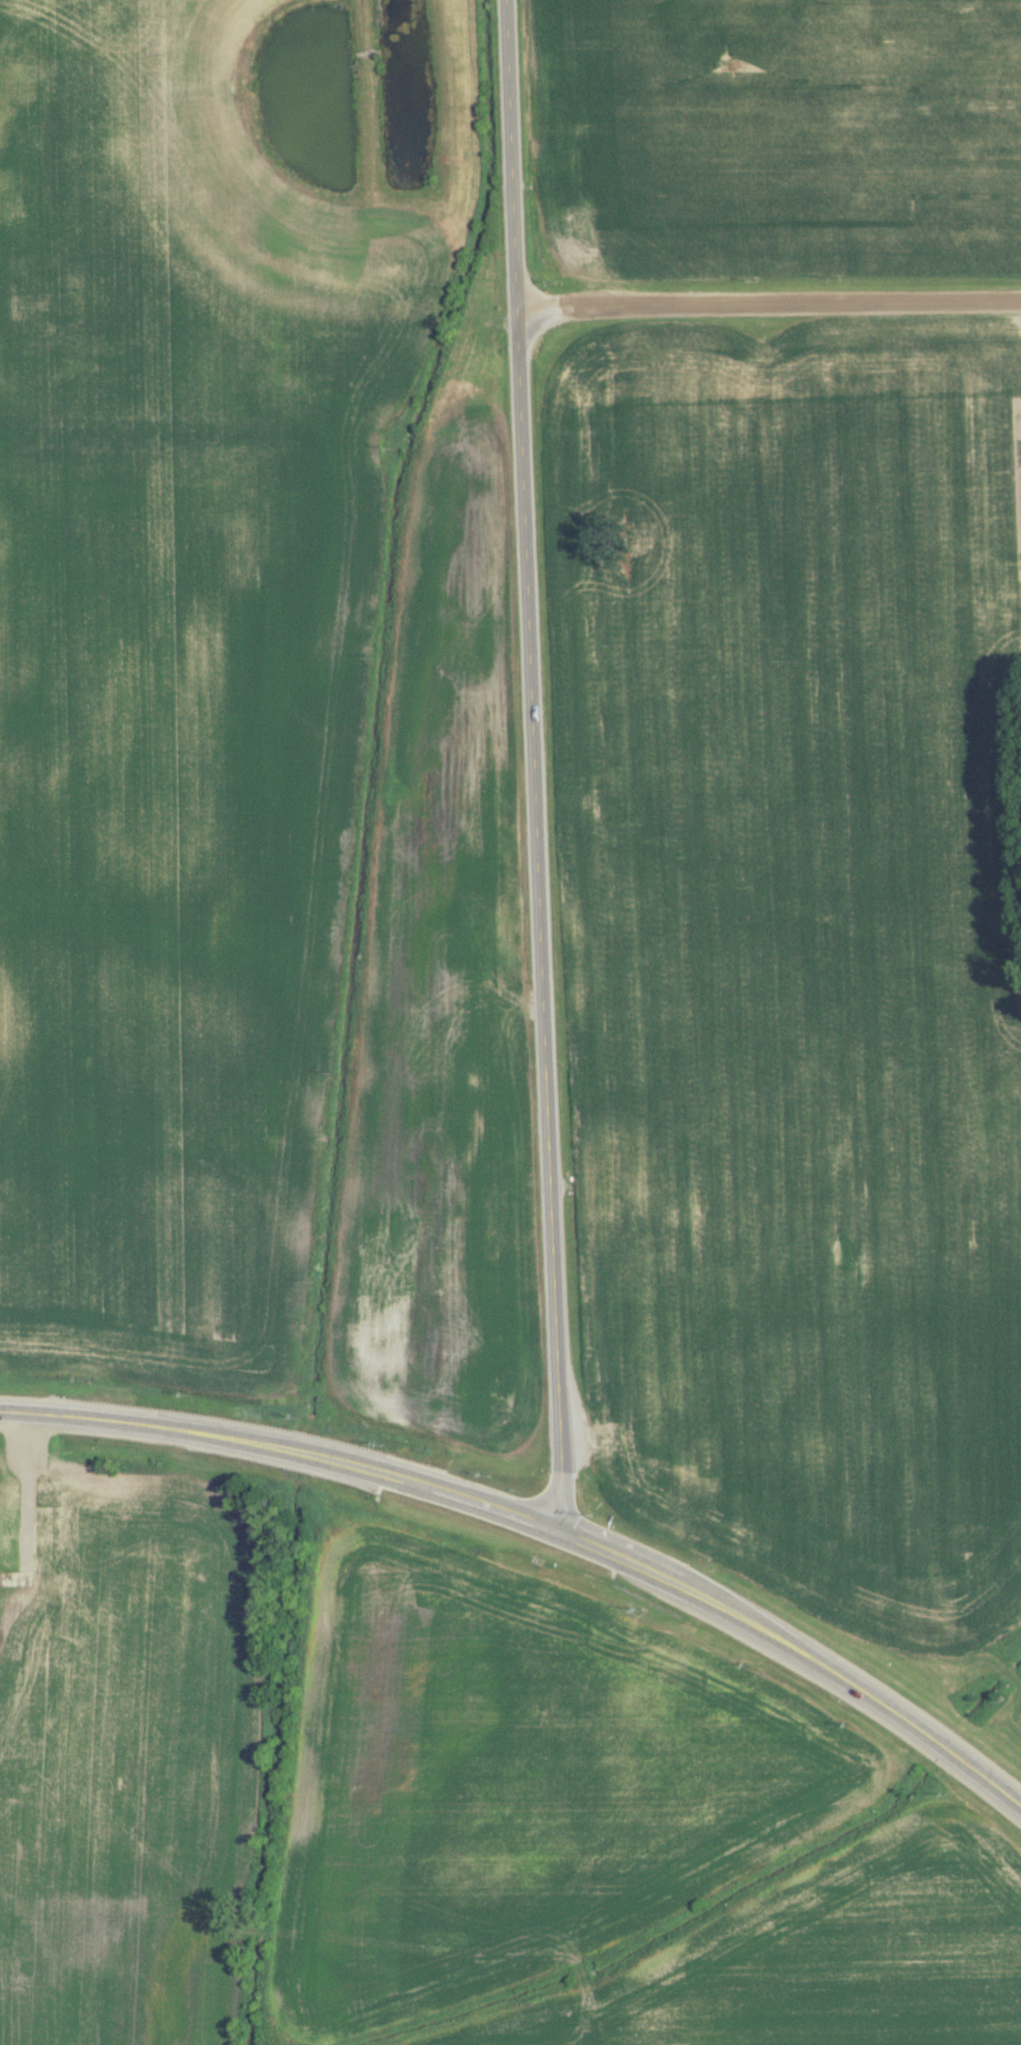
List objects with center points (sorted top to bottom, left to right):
road: (508, 149)
road: (767, 303)
road: (534, 913)
road: (282, 1443)
building: (706, 1466)
road: (799, 1644)

